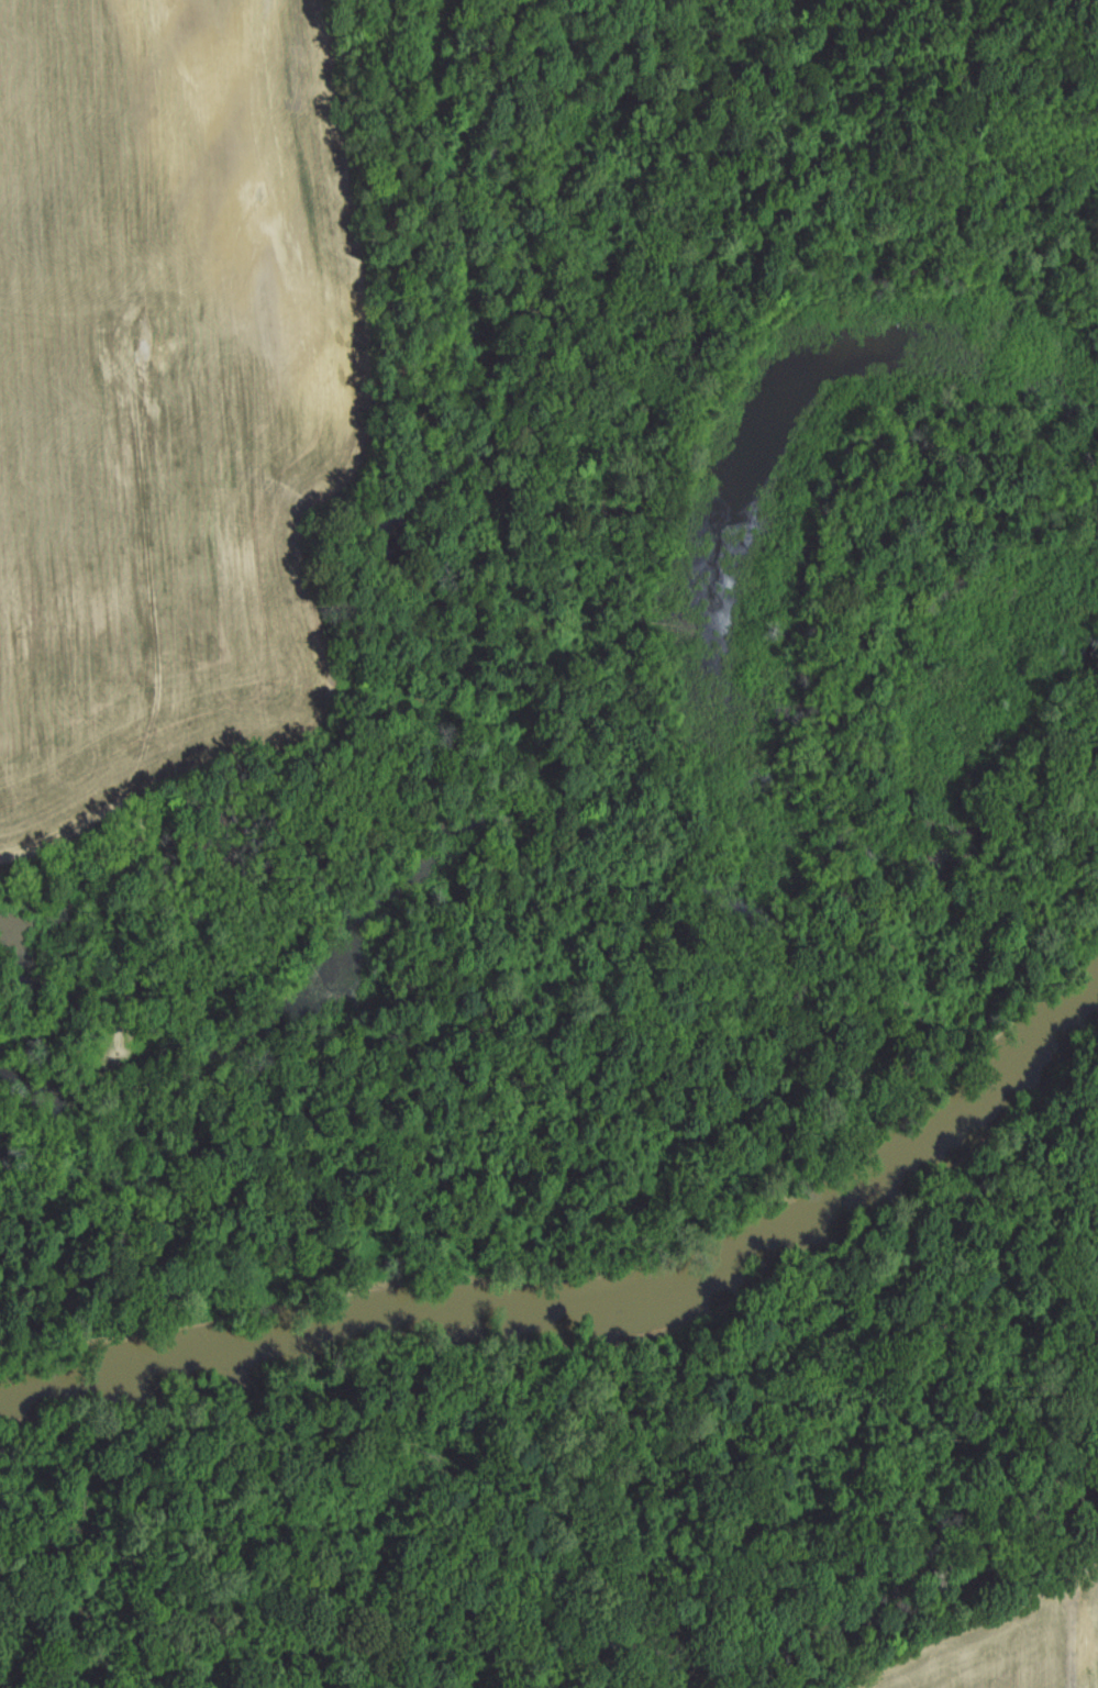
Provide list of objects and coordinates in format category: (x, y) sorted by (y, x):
road: (95, 822)
road: (151, 920)
river: (595, 1278)
road: (1074, 1623)

